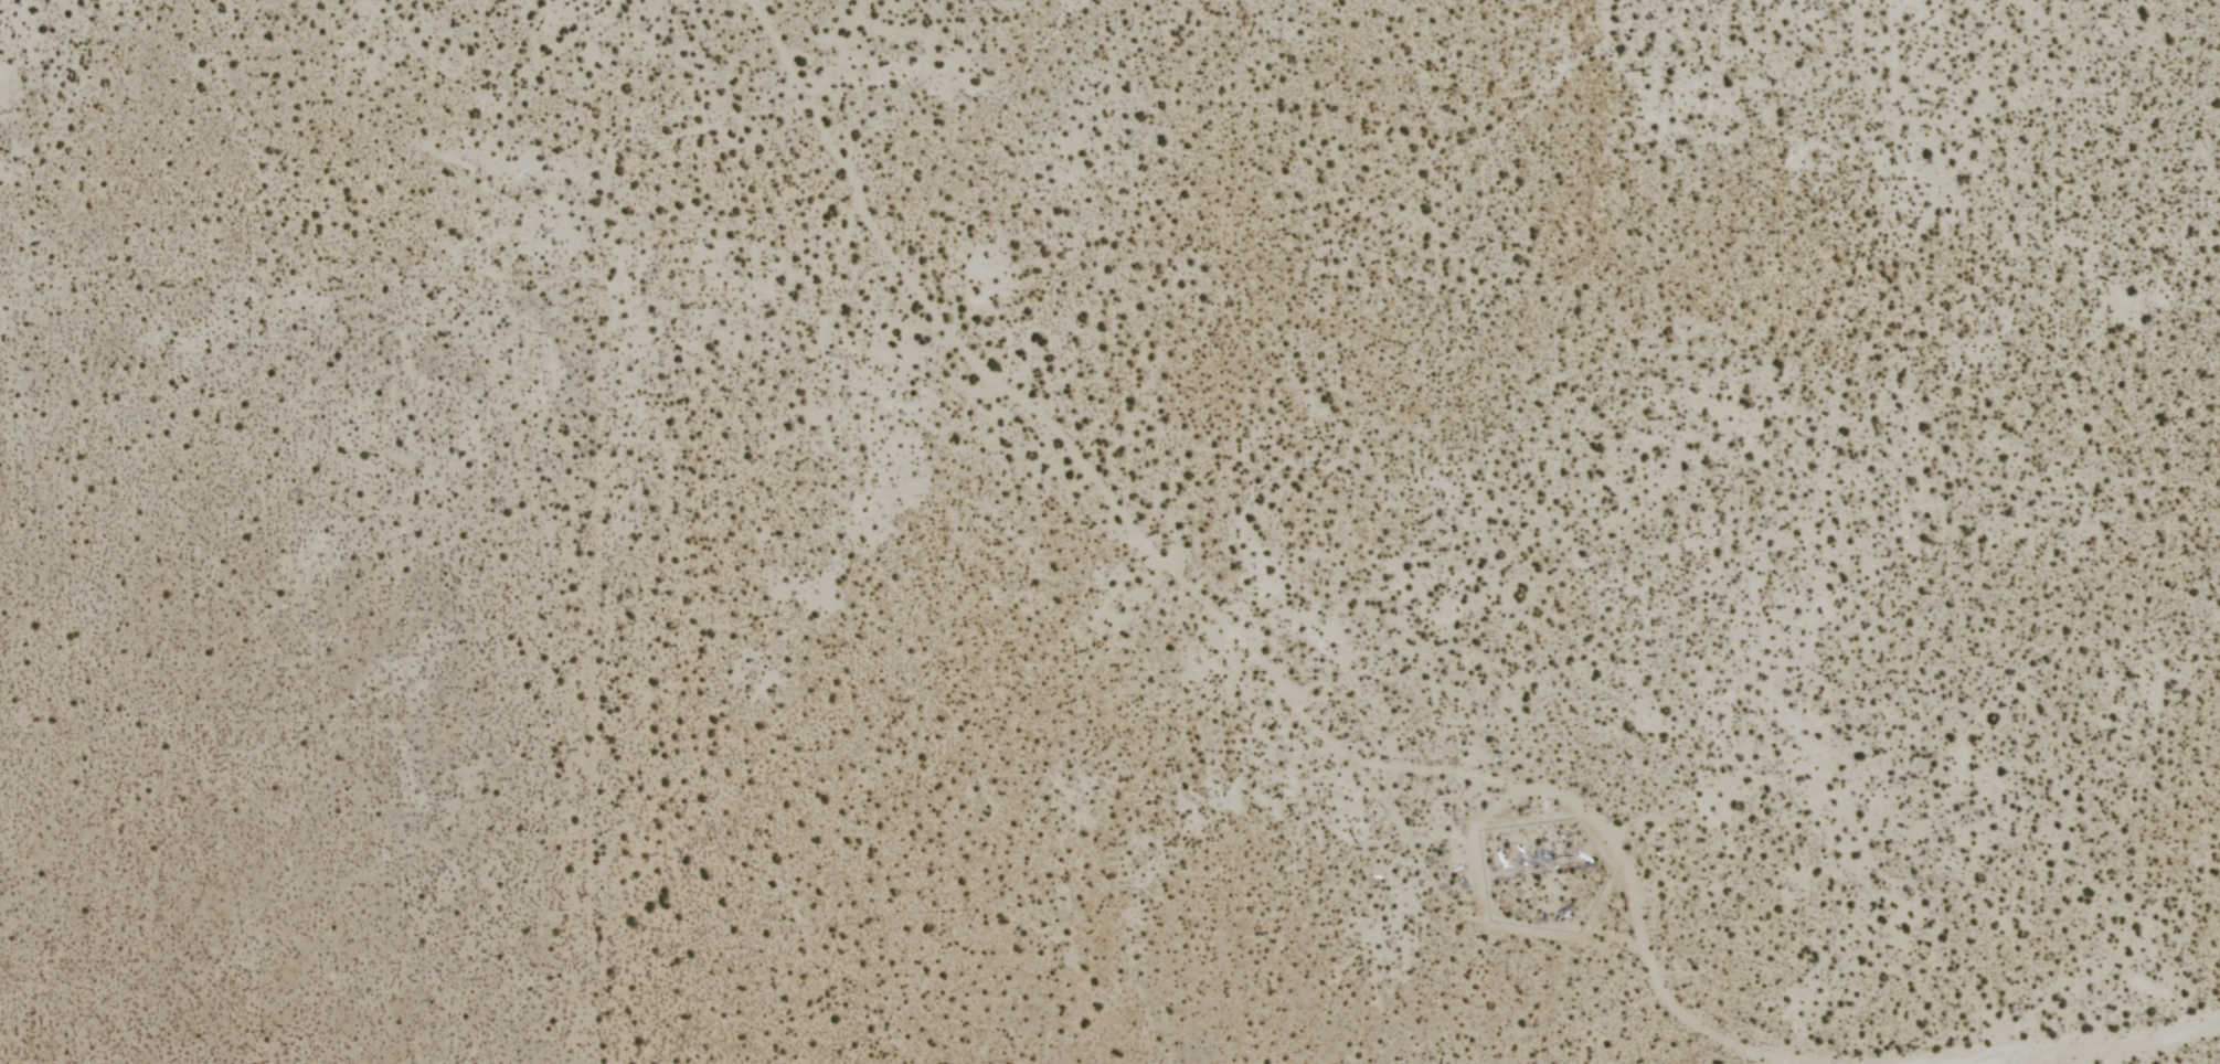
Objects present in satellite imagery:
airport: (1109, 532)

